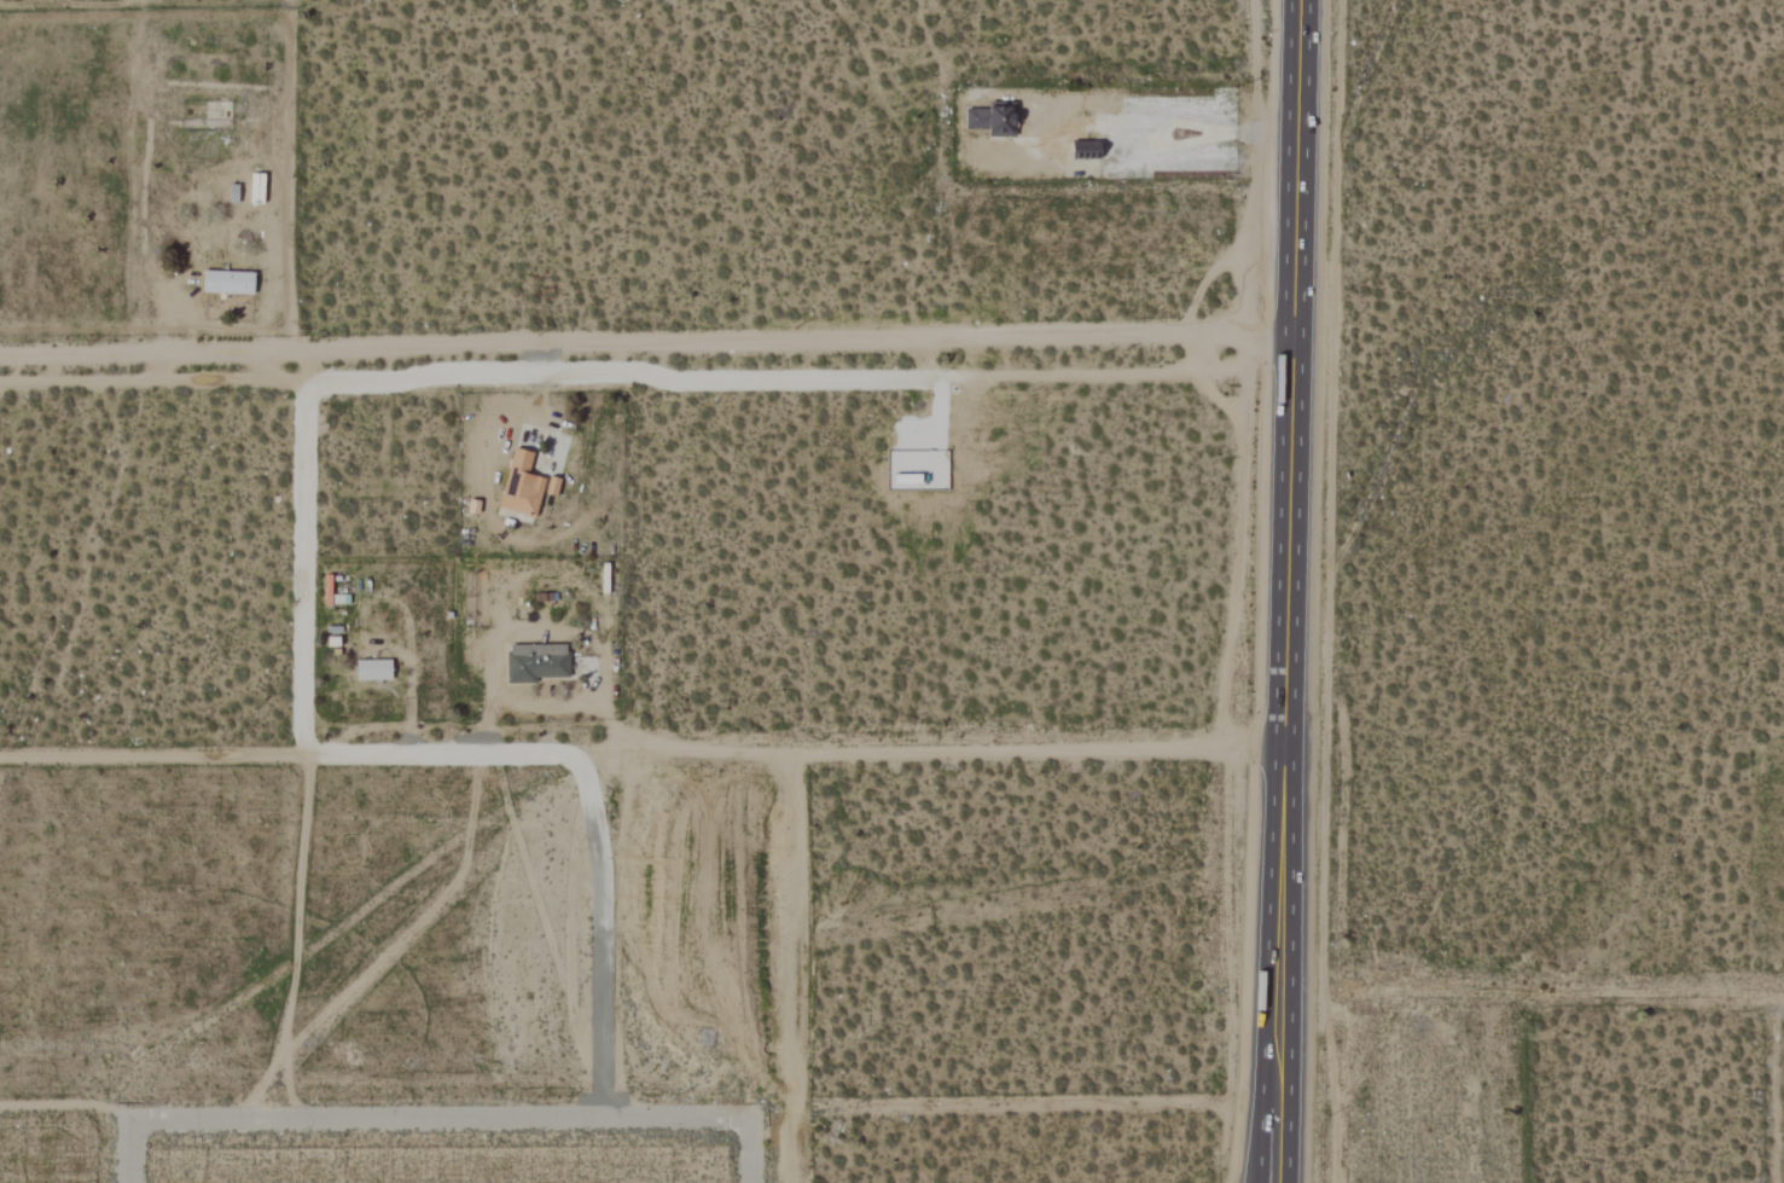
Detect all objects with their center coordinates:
building: (988, 122)
road: (1198, 128)
building: (227, 283)
road: (208, 323)
road: (647, 343)
road: (1108, 371)
road: (644, 376)
road: (511, 431)
building: (521, 487)
road: (308, 551)
road: (1289, 591)
building: (535, 663)
building: (372, 671)
road: (407, 697)
road: (544, 706)
road: (643, 752)
road: (603, 933)
road: (295, 939)
road: (1533, 992)
road: (65, 1107)
road: (441, 1119)
road: (132, 1149)
road: (752, 1149)

